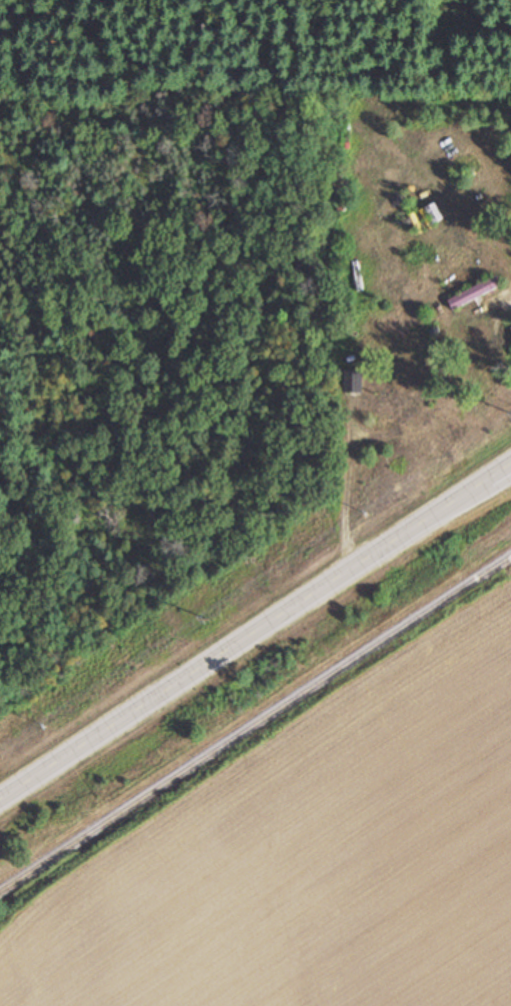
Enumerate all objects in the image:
building: (476, 293)
building: (353, 382)
road: (255, 633)
railway: (255, 723)

